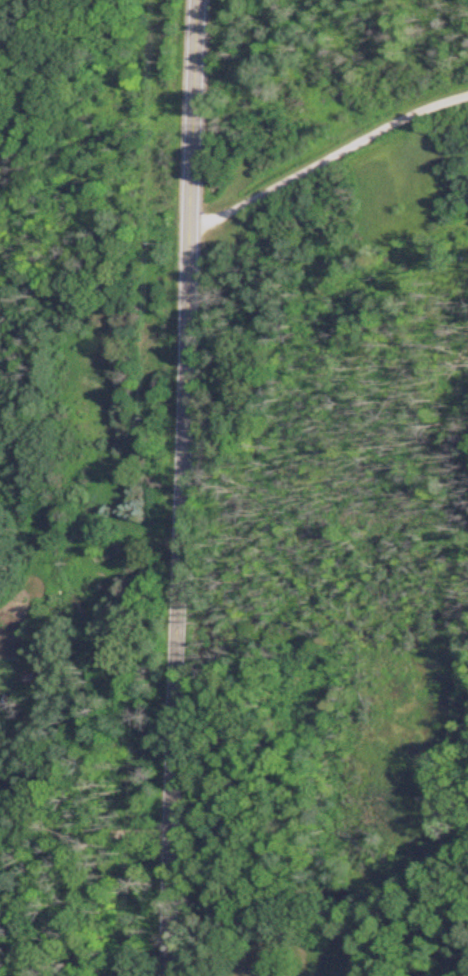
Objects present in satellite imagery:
road: (174, 488)

